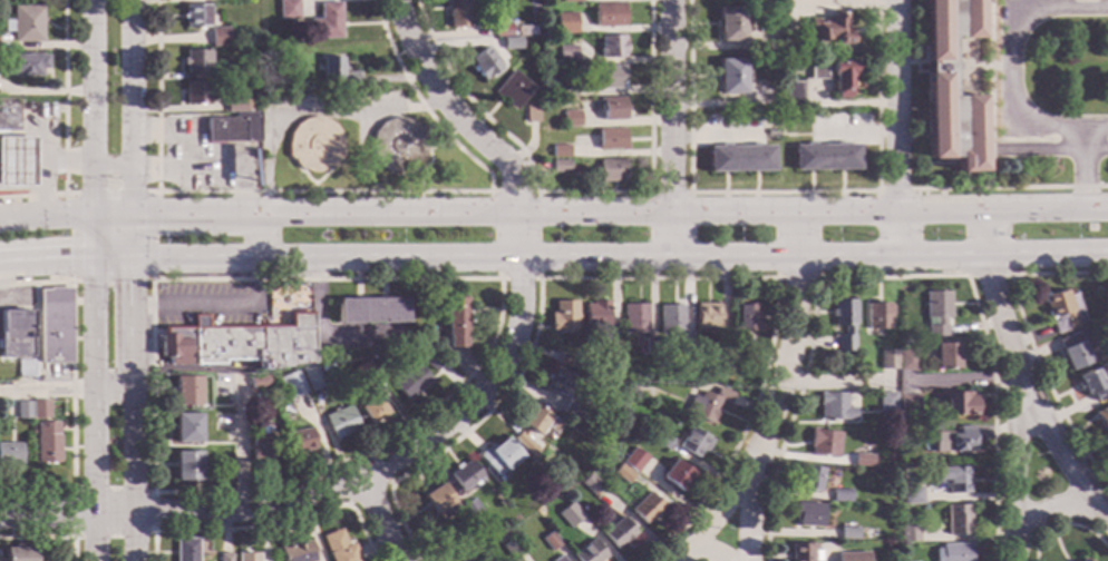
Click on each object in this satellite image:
building: (571, 1)
road: (1083, 4)
building: (288, 10)
building: (789, 12)
building: (458, 13)
building: (195, 16)
building: (609, 16)
building: (325, 22)
building: (565, 23)
building: (730, 23)
building: (25, 24)
building: (544, 29)
building: (502, 30)
building: (828, 30)
building: (218, 37)
building: (511, 43)
building: (611, 47)
building: (566, 56)
road: (1012, 58)
building: (194, 60)
road: (914, 62)
building: (484, 63)
building: (22, 66)
road: (981, 66)
parking lot: (1009, 69)
building: (234, 70)
building: (337, 72)
building: (608, 77)
building: (730, 77)
building: (834, 77)
building: (950, 86)
building: (565, 87)
building: (512, 90)
building: (195, 92)
building: (790, 93)
road: (990, 93)
building: (234, 106)
road: (879, 106)
road: (96, 107)
road: (129, 107)
road: (650, 107)
road: (690, 107)
road: (894, 107)
building: (611, 108)
building: (531, 112)
building: (8, 117)
building: (570, 119)
road: (1097, 127)
building: (233, 128)
road: (668, 128)
building: (772, 134)
building: (610, 139)
road: (1049, 139)
building: (313, 145)
building: (397, 146)
building: (560, 151)
road: (1053, 151)
building: (825, 157)
building: (739, 159)
road: (985, 160)
building: (16, 165)
building: (560, 167)
road: (136, 169)
road: (1086, 169)
building: (611, 170)
traffic signals: (96, 186)
road: (632, 193)
road: (36, 195)
road: (1097, 209)
road: (1033, 210)
road: (937, 213)
traffic signals: (161, 215)
road: (513, 216)
road: (65, 217)
road: (981, 233)
road: (895, 235)
road: (96, 237)
road: (259, 237)
road: (939, 255)
road: (1044, 255)
road: (496, 258)
road: (47, 259)
traffic signals: (67, 259)
road: (986, 275)
road: (890, 276)
road: (795, 277)
road: (152, 278)
road: (645, 278)
road: (519, 279)
traffic signals: (133, 286)
road: (519, 299)
road: (216, 304)
building: (1062, 311)
building: (370, 312)
building: (936, 313)
building: (595, 315)
building: (563, 316)
building: (706, 316)
building: (877, 316)
building: (634, 318)
building: (747, 318)
building: (670, 319)
building: (456, 322)
building: (844, 324)
building: (54, 325)
building: (14, 334)
road: (1029, 339)
building: (239, 343)
building: (650, 346)
building: (686, 346)
building: (716, 348)
building: (613, 350)
building: (1076, 350)
building: (419, 355)
building: (946, 355)
building: (747, 356)
building: (888, 360)
building: (907, 361)
building: (565, 362)
building: (327, 367)
building: (25, 368)
building: (366, 372)
building: (313, 377)
building: (259, 381)
building: (411, 382)
building: (556, 382)
building: (1094, 383)
road: (72, 384)
road: (133, 387)
building: (631, 388)
road: (781, 391)
road: (67, 392)
building: (186, 392)
building: (293, 392)
road: (1024, 398)
building: (708, 404)
building: (908, 404)
building: (888, 405)
building: (959, 405)
building: (572, 407)
building: (834, 407)
building: (23, 410)
building: (39, 410)
road: (95, 410)
building: (372, 410)
road: (427, 410)
building: (1102, 417)
building: (341, 422)
building: (534, 427)
building: (186, 429)
building: (300, 441)
building: (662, 441)
building: (954, 441)
building: (824, 442)
building: (47, 443)
building: (694, 443)
road: (239, 444)
building: (262, 445)
building: (10, 454)
building: (499, 455)
building: (634, 460)
building: (862, 460)
building: (186, 466)
building: (623, 474)
building: (464, 475)
building: (676, 475)
road: (1018, 476)
building: (888, 478)
building: (809, 479)
building: (952, 480)
road: (387, 484)
building: (591, 484)
building: (913, 495)
building: (840, 496)
building: (439, 499)
building: (647, 509)
building: (470, 511)
road: (1049, 512)
road: (184, 514)
building: (808, 514)
building: (570, 515)
road: (715, 519)
building: (958, 520)
road: (268, 523)
road: (1065, 524)
road: (72, 531)
building: (619, 533)
building: (848, 533)
building: (908, 533)
road: (48, 537)
building: (467, 541)
building: (551, 541)
building: (338, 548)
building: (185, 550)
building: (512, 550)
building: (297, 552)
building: (589, 552)
building: (800, 552)
building: (953, 552)
road: (702, 553)
building: (18, 554)
building: (246, 555)
building: (849, 557)
building: (224, 558)
building: (558, 559)
building: (1081, 560)

